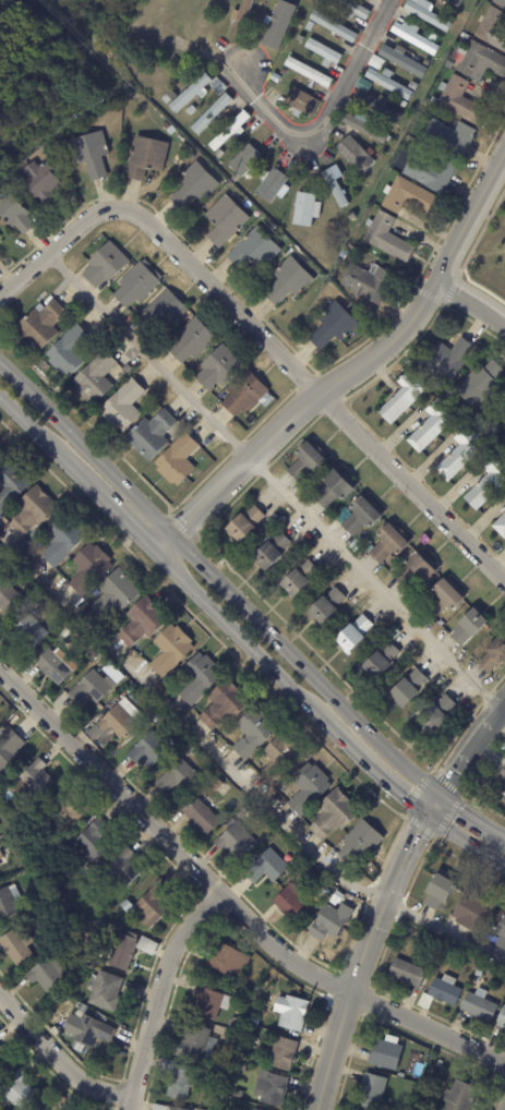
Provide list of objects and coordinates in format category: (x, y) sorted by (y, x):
building: (454, 3)
building: (498, 3)
building: (352, 9)
building: (428, 13)
building: (452, 14)
building: (241, 16)
building: (277, 24)
building: (308, 26)
building: (333, 27)
building: (491, 29)
building: (299, 39)
building: (416, 39)
building: (323, 52)
building: (402, 60)
building: (426, 62)
building: (478, 62)
building: (375, 63)
building: (447, 65)
building: (282, 71)
building: (309, 72)
building: (274, 79)
building: (388, 83)
building: (412, 86)
building: (216, 87)
building: (185, 94)
building: (433, 100)
building: (459, 101)
building: (301, 104)
building: (380, 106)
building: (212, 114)
road: (325, 123)
building: (166, 126)
building: (364, 126)
building: (229, 132)
building: (448, 138)
building: (91, 154)
building: (354, 155)
building: (378, 155)
building: (144, 157)
building: (244, 160)
building: (430, 172)
building: (235, 179)
building: (39, 185)
building: (272, 185)
building: (194, 186)
building: (335, 189)
building: (409, 197)
building: (305, 209)
building: (14, 215)
building: (351, 216)
building: (224, 220)
building: (385, 238)
building: (253, 251)
building: (103, 266)
building: (288, 282)
building: (368, 282)
building: (136, 285)
road: (470, 302)
building: (161, 314)
building: (39, 325)
building: (332, 326)
road: (262, 338)
building: (190, 340)
building: (68, 351)
building: (84, 353)
building: (447, 360)
building: (217, 369)
road: (352, 370)
building: (127, 371)
building: (94, 377)
building: (480, 385)
building: (243, 395)
building: (405, 398)
building: (502, 399)
building: (122, 407)
building: (431, 426)
road: (29, 431)
building: (151, 435)
building: (0, 451)
building: (461, 455)
building: (176, 461)
building: (306, 462)
road: (270, 480)
building: (10, 484)
building: (486, 484)
building: (332, 491)
building: (504, 499)
road: (107, 507)
building: (33, 511)
building: (361, 516)
building: (243, 526)
building: (500, 527)
building: (60, 541)
building: (388, 544)
building: (270, 553)
building: (89, 568)
building: (64, 570)
building: (416, 571)
building: (297, 580)
road: (217, 581)
building: (113, 595)
building: (8, 599)
building: (442, 601)
building: (324, 607)
building: (142, 622)
building: (467, 628)
building: (26, 632)
road: (236, 635)
building: (352, 635)
building: (392, 635)
building: (170, 651)
building: (494, 657)
building: (81, 662)
building: (380, 662)
building: (51, 667)
building: (197, 678)
building: (407, 690)
building: (93, 692)
building: (224, 705)
building: (147, 711)
building: (435, 715)
building: (119, 720)
building: (154, 720)
building: (148, 726)
building: (252, 734)
road: (469, 746)
building: (148, 751)
building: (9, 753)
building: (278, 762)
road: (368, 767)
building: (502, 775)
road: (232, 776)
building: (34, 779)
building: (177, 779)
building: (217, 785)
building: (308, 789)
traffic signals: (436, 795)
building: (4, 797)
building: (503, 798)
road: (431, 804)
building: (70, 806)
traffic signals: (425, 813)
building: (240, 815)
building: (334, 815)
road: (470, 816)
building: (200, 818)
building: (231, 822)
building: (93, 840)
road: (464, 841)
building: (233, 842)
building: (360, 843)
building: (123, 869)
building: (265, 869)
building: (438, 890)
building: (323, 892)
building: (336, 897)
road: (228, 898)
building: (8, 904)
building: (55, 905)
building: (153, 905)
building: (290, 905)
building: (127, 907)
building: (471, 910)
building: (328, 925)
building: (501, 933)
building: (91, 942)
building: (16, 946)
building: (146, 948)
building: (120, 952)
road: (362, 957)
building: (88, 961)
building: (227, 961)
building: (479, 972)
building: (407, 973)
building: (46, 976)
building: (444, 990)
building: (103, 992)
road: (159, 992)
building: (254, 992)
building: (261, 996)
building: (209, 1002)
building: (424, 1002)
building: (478, 1005)
building: (290, 1012)
building: (501, 1018)
building: (254, 1021)
building: (233, 1023)
building: (86, 1030)
building: (53, 1033)
building: (192, 1045)
building: (244, 1049)
building: (281, 1053)
building: (386, 1053)
building: (4, 1061)
road: (57, 1062)
building: (240, 1067)
building: (179, 1079)
building: (269, 1088)
building: (17, 1091)
building: (370, 1091)
building: (432, 1091)
building: (235, 1094)
building: (458, 1097)
building: (218, 1107)
building: (164, 1108)
building: (418, 1108)
building: (252, 1109)

